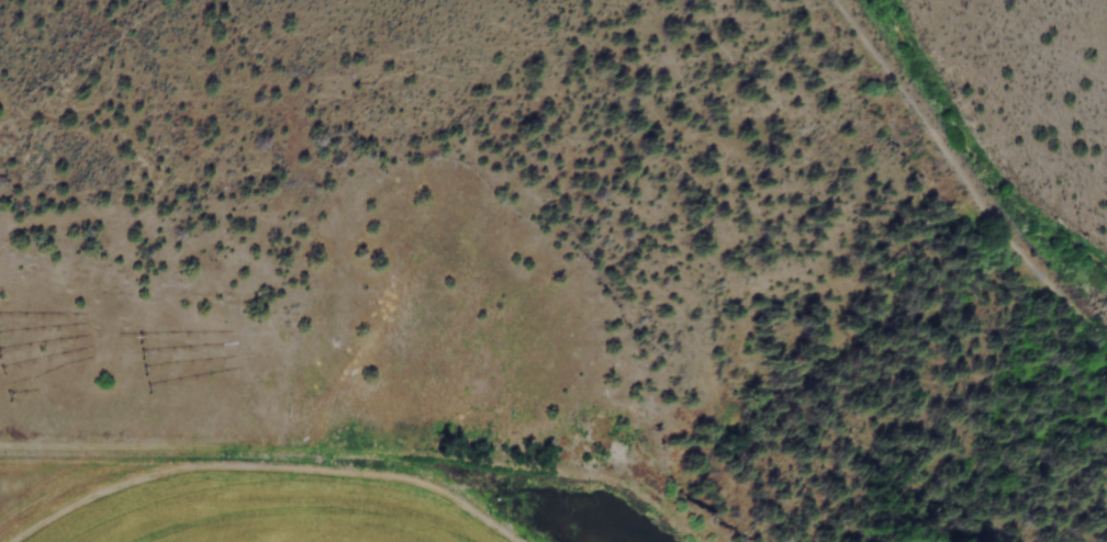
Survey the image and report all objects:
road: (963, 176)
crop: (205, 429)

